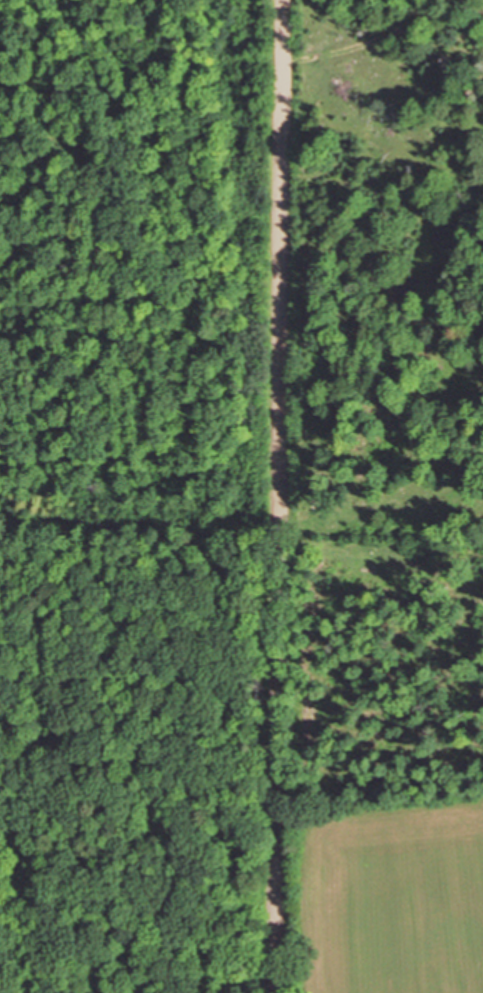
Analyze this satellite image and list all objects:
road: (281, 496)
landfill: (135, 751)

